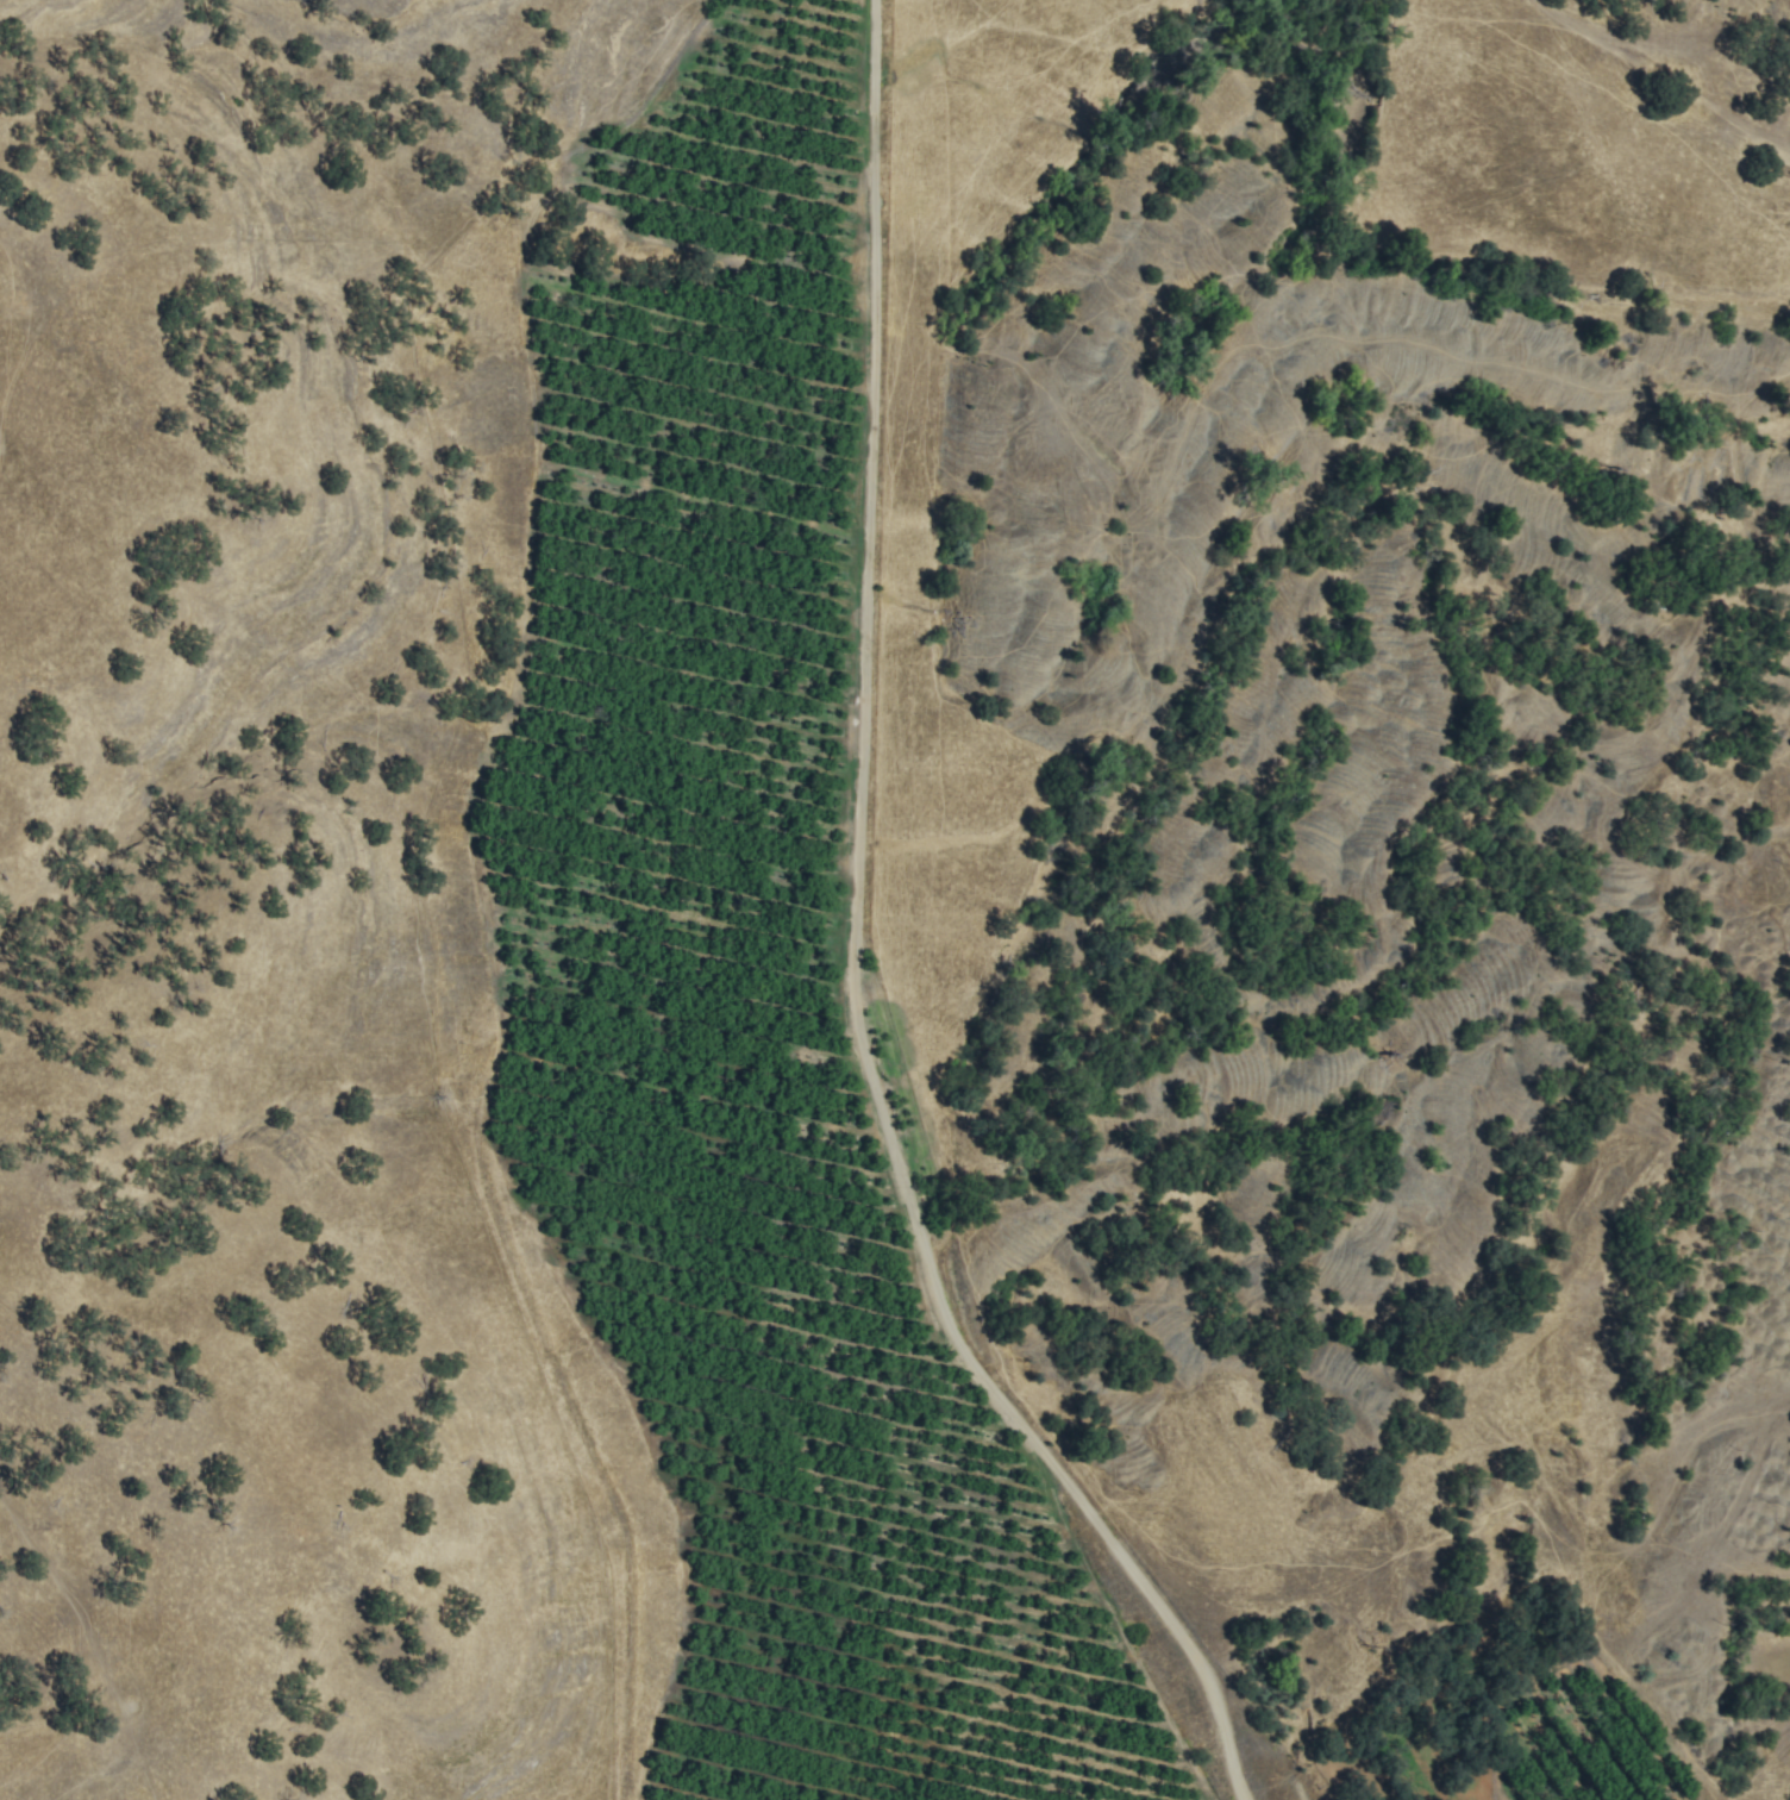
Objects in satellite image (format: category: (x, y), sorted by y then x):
road: (863, 951)
crop: (755, 995)
crop: (1519, 1725)

